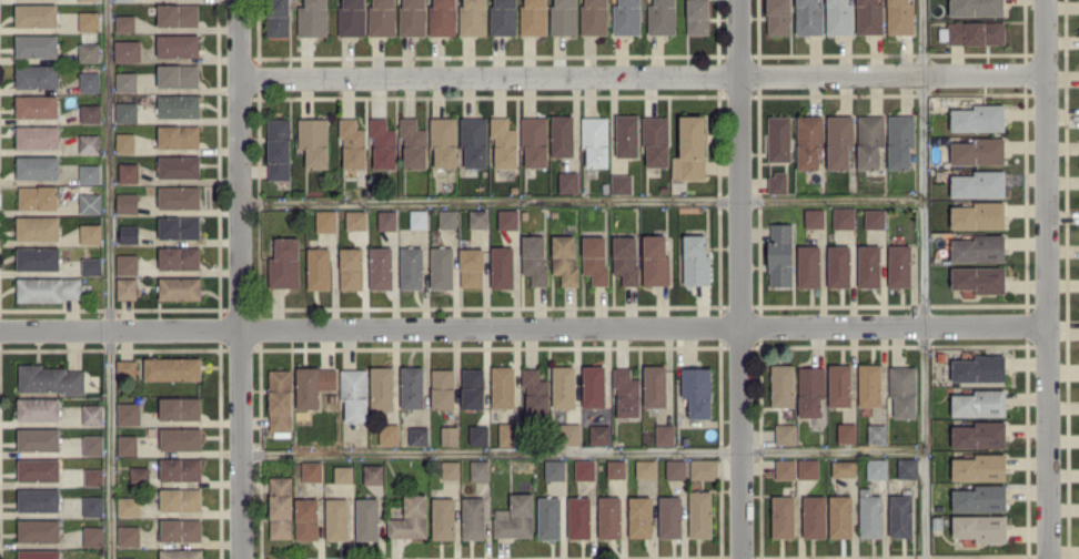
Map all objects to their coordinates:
building: (87, 0)
building: (124, 0)
building: (976, 7)
building: (36, 14)
building: (177, 14)
building: (503, 17)
building: (533, 17)
building: (563, 17)
building: (593, 17)
building: (626, 17)
building: (662, 17)
building: (697, 17)
building: (778, 17)
building: (808, 17)
building: (838, 17)
building: (869, 17)
building: (899, 17)
building: (278, 18)
building: (312, 18)
building: (352, 18)
building: (382, 18)
building: (412, 18)
building: (442, 18)
building: (473, 18)
building: (88, 20)
building: (124, 22)
building: (972, 32)
building: (36, 45)
building: (178, 45)
building: (127, 50)
building: (88, 51)
road: (643, 73)
building: (178, 74)
building: (37, 75)
building: (89, 81)
building: (125, 81)
building: (37, 105)
building: (178, 105)
building: (125, 111)
building: (90, 112)
building: (978, 118)
building: (626, 134)
building: (178, 135)
building: (562, 135)
building: (37, 136)
building: (778, 138)
building: (595, 140)
building: (869, 140)
building: (899, 140)
building: (313, 141)
building: (443, 141)
building: (474, 141)
building: (534, 141)
building: (655, 141)
building: (839, 141)
building: (124, 142)
building: (504, 142)
building: (809, 142)
building: (89, 143)
building: (352, 143)
building: (383, 143)
building: (413, 143)
building: (278, 149)
building: (689, 149)
building: (978, 151)
building: (37, 166)
building: (179, 166)
building: (128, 172)
building: (89, 173)
building: (567, 182)
building: (777, 182)
building: (621, 183)
building: (978, 184)
building: (38, 196)
building: (179, 196)
road: (581, 199)
building: (90, 202)
building: (127, 202)
building: (978, 215)
building: (447, 217)
building: (814, 217)
building: (844, 217)
building: (874, 217)
building: (355, 218)
building: (417, 218)
building: (477, 218)
building: (507, 218)
building: (325, 220)
building: (386, 220)
building: (179, 226)
building: (38, 227)
building: (90, 233)
building: (129, 233)
building: (978, 248)
building: (780, 254)
building: (38, 257)
building: (179, 257)
building: (534, 258)
building: (564, 258)
building: (594, 258)
building: (625, 258)
building: (655, 260)
building: (695, 260)
building: (127, 263)
building: (284, 263)
building: (91, 265)
building: (808, 265)
building: (869, 265)
building: (899, 265)
building: (502, 266)
building: (838, 266)
building: (319, 267)
building: (351, 267)
building: (381, 267)
building: (411, 267)
building: (441, 267)
building: (471, 267)
road: (110, 278)
building: (979, 278)
road: (1047, 278)
road: (240, 279)
road: (739, 279)
road: (922, 279)
building: (125, 287)
building: (179, 287)
building: (49, 288)
road: (523, 326)
building: (172, 368)
building: (979, 368)
building: (125, 369)
building: (50, 378)
building: (869, 384)
building: (313, 385)
building: (654, 385)
building: (781, 385)
building: (839, 385)
building: (412, 386)
building: (503, 386)
building: (563, 386)
building: (593, 386)
building: (381, 387)
building: (442, 388)
building: (472, 388)
building: (902, 389)
building: (697, 390)
building: (810, 390)
building: (535, 392)
building: (626, 392)
building: (354, 393)
building: (279, 399)
building: (979, 403)
building: (38, 408)
building: (180, 408)
building: (128, 413)
building: (92, 414)
building: (507, 433)
building: (785, 433)
building: (846, 433)
building: (876, 433)
building: (389, 434)
building: (478, 434)
building: (568, 434)
building: (599, 434)
building: (664, 434)
building: (417, 435)
building: (450, 435)
building: (979, 435)
building: (38, 438)
building: (180, 438)
building: (92, 445)
building: (127, 445)
road: (583, 453)
building: (646, 467)
building: (908, 467)
building: (979, 467)
building: (615, 468)
building: (675, 468)
building: (785, 468)
building: (807, 468)
building: (843, 468)
building: (876, 468)
building: (38, 469)
building: (180, 469)
building: (450, 469)
building: (480, 469)
building: (554, 469)
building: (584, 469)
building: (703, 469)
building: (311, 470)
building: (139, 474)
building: (343, 474)
building: (372, 474)
building: (93, 476)
building: (180, 498)
building: (980, 498)
building: (39, 499)
building: (92, 505)
building: (128, 506)
building: (280, 507)
building: (699, 514)
building: (870, 514)
building: (639, 516)
building: (669, 516)
building: (783, 516)
building: (814, 516)
building: (840, 516)
building: (900, 516)
building: (410, 517)
building: (515, 517)
building: (548, 517)
building: (578, 517)
building: (609, 517)
building: (306, 518)
building: (336, 518)
building: (366, 518)
building: (443, 518)
building: (473, 518)
building: (980, 527)
building: (180, 529)
building: (38, 530)
building: (92, 535)
building: (128, 535)
building: (39, 553)
building: (180, 553)
building: (128, 558)

